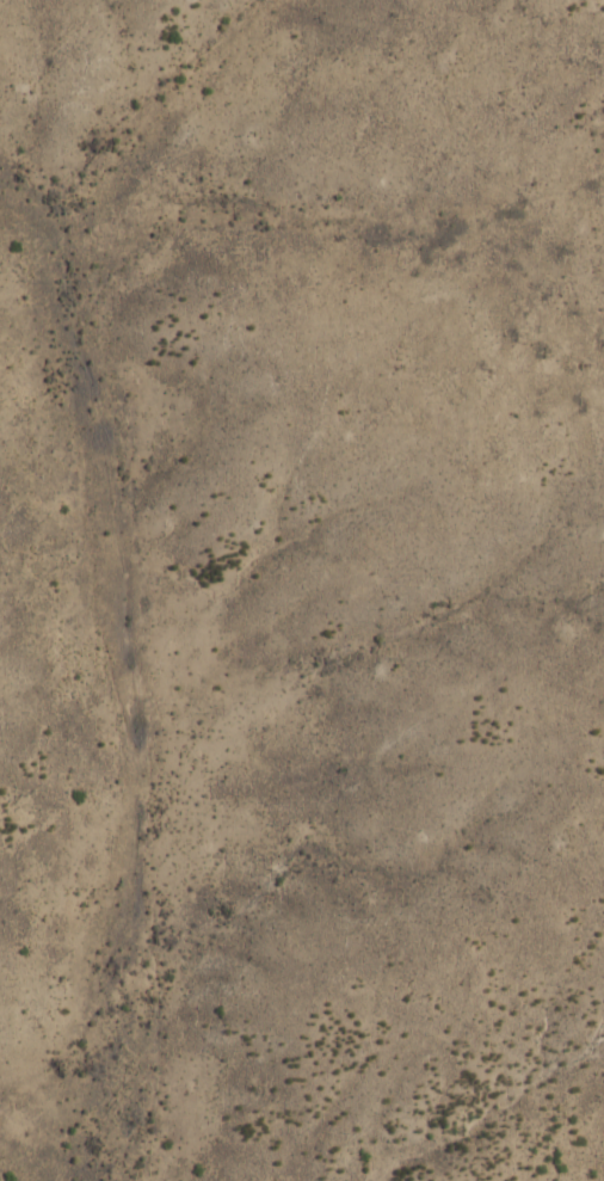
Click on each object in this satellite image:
road: (307, 875)

